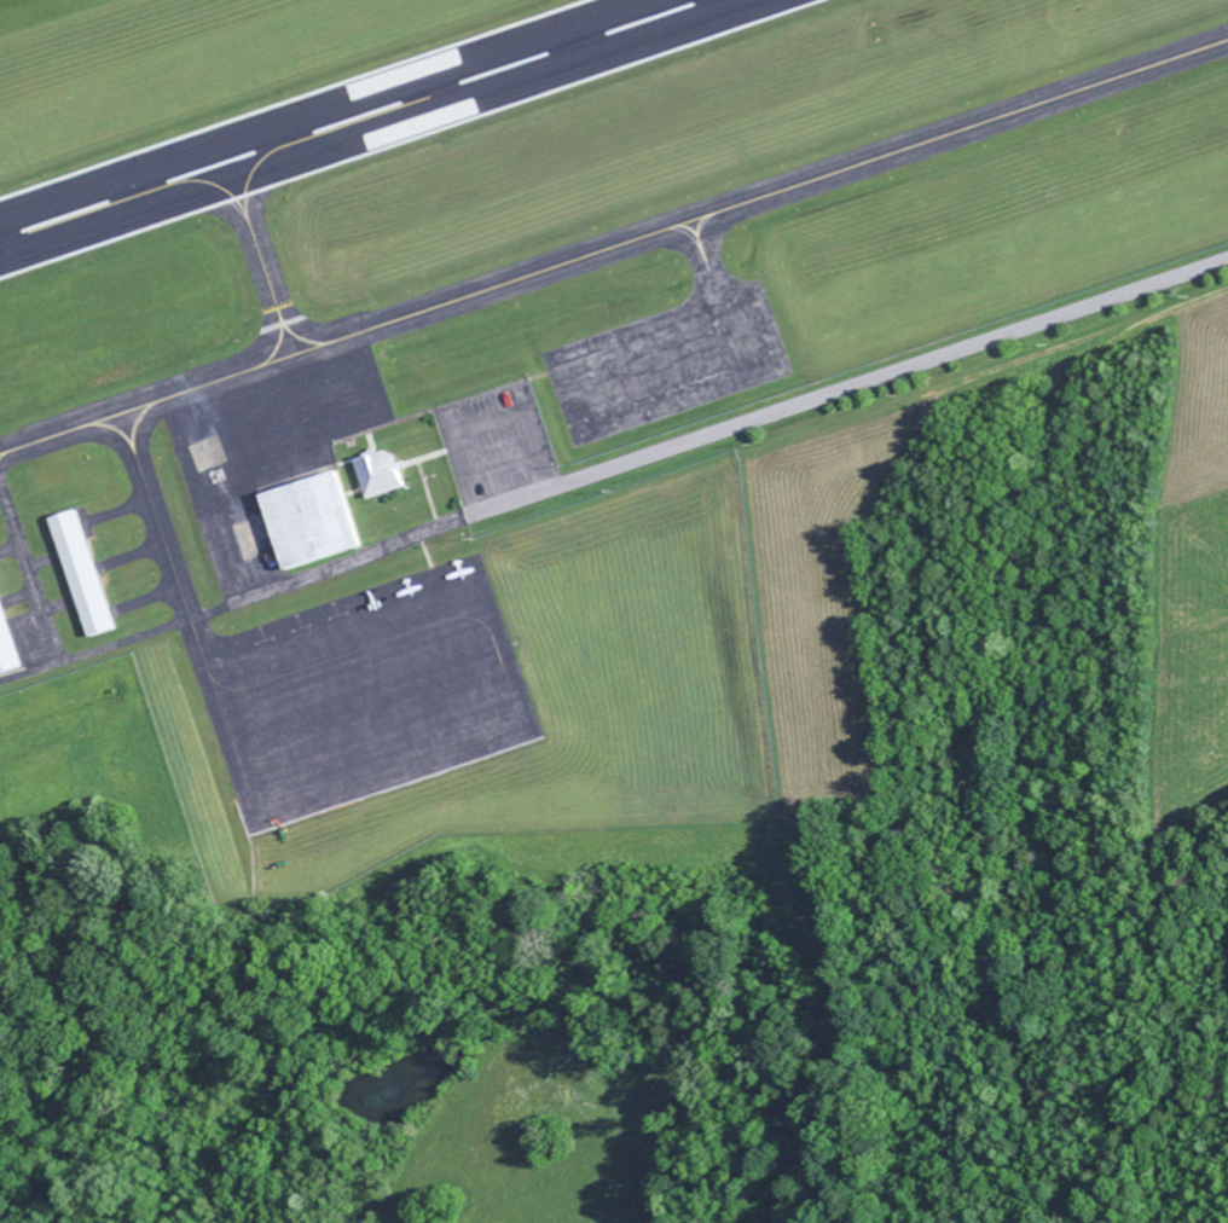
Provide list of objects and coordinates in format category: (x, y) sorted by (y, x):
airport runway: (352, 118)
airport taxiway: (614, 247)
airport taxiway: (260, 257)
airport apron: (670, 361)
road: (857, 387)
building: (387, 473)
road: (476, 479)
building: (319, 520)
airport taxiway: (163, 537)
airport taxiway: (28, 567)
building: (81, 574)
building: (7, 644)
airport apron: (366, 695)

